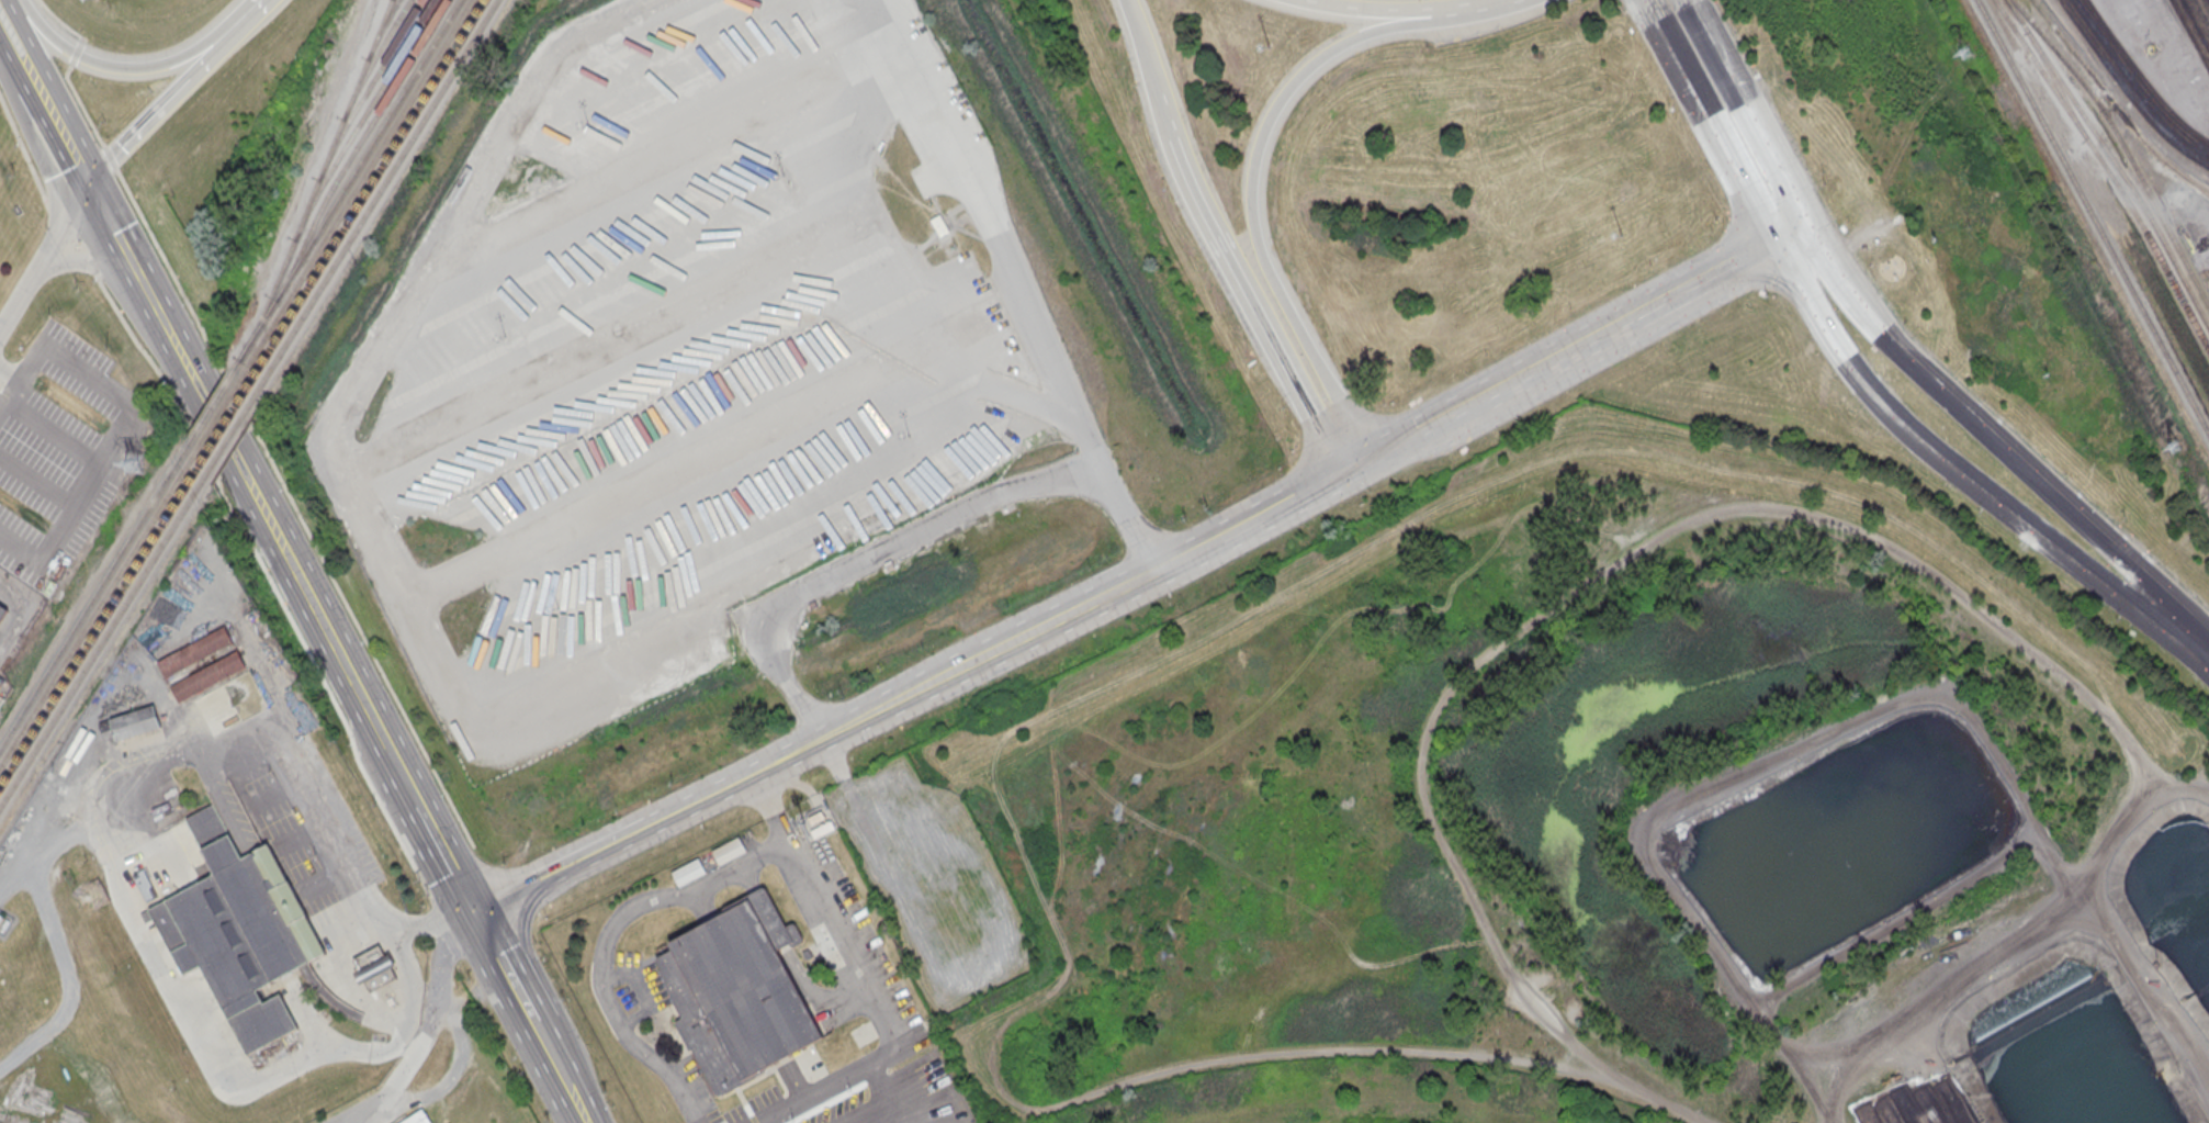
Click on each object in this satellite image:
road: (1688, 2)
road: (1451, 9)
road: (1350, 11)
road: (1649, 12)
road: (2201, 12)
road: (57, 22)
road: (19, 24)
railway: (382, 29)
road: (1141, 45)
road: (10, 46)
road: (74, 53)
power tower: (1965, 53)
railway: (374, 58)
road: (129, 68)
road: (29, 69)
parking lot: (681, 71)
road: (803, 85)
road: (2130, 86)
railway: (369, 88)
road: (173, 91)
road: (79, 105)
road: (1746, 111)
road: (1163, 115)
railway: (362, 119)
street lamp: (586, 123)
road: (1714, 127)
road: (60, 137)
railway: (2123, 145)
railway: (357, 146)
road: (21, 151)
road: (105, 157)
railway: (2114, 160)
railway: (2109, 170)
street lamp: (782, 173)
road: (1186, 176)
railway: (2187, 178)
railway: (317, 180)
railway: (346, 186)
traffic signals: (86, 188)
railway: (354, 190)
railway: (364, 194)
railway: (374, 199)
road: (1254, 212)
traffic signals: (1803, 216)
railway: (2094, 217)
road: (55, 221)
road: (1787, 225)
traffic signals: (1771, 234)
road: (116, 244)
road: (71, 245)
parking lot: (639, 245)
road: (155, 249)
road: (41, 254)
road: (81, 262)
road: (84, 263)
road: (1026, 285)
road: (1239, 285)
road: (162, 324)
road: (611, 340)
road: (1569, 346)
road: (176, 348)
road: (1921, 372)
road: (10, 377)
parking lot: (680, 385)
road: (10, 397)
railway: (210, 407)
road: (1309, 415)
railway: (216, 416)
railway: (222, 426)
railway: (228, 436)
power tower: (2173, 443)
road: (114, 446)
road: (699, 456)
road: (1937, 458)
power tower: (139, 465)
parking lot: (756, 509)
road: (275, 535)
road: (2122, 558)
road: (871, 559)
road: (271, 586)
railway: (94, 596)
road: (25, 608)
railway: (97, 609)
building: (2, 610)
railway: (99, 625)
road: (426, 633)
road: (2188, 638)
railway: (102, 639)
road: (1006, 645)
building: (194, 651)
road: (339, 658)
building: (208, 675)
building: (135, 723)
road: (234, 776)
road: (403, 778)
road: (296, 781)
road: (273, 795)
road: (218, 797)
road: (297, 839)
road: (446, 860)
road: (557, 869)
building: (688, 872)
road: (320, 880)
road: (437, 911)
traffic signals: (473, 912)
road: (427, 921)
road: (347, 923)
building: (239, 931)
road: (56, 935)
road: (607, 941)
building: (375, 968)
road: (505, 968)
road: (863, 979)
building: (739, 991)
road: (475, 998)
road: (425, 1033)
road: (203, 1037)
road: (33, 1040)
road: (560, 1074)
road: (880, 1099)
building: (418, 1118)

